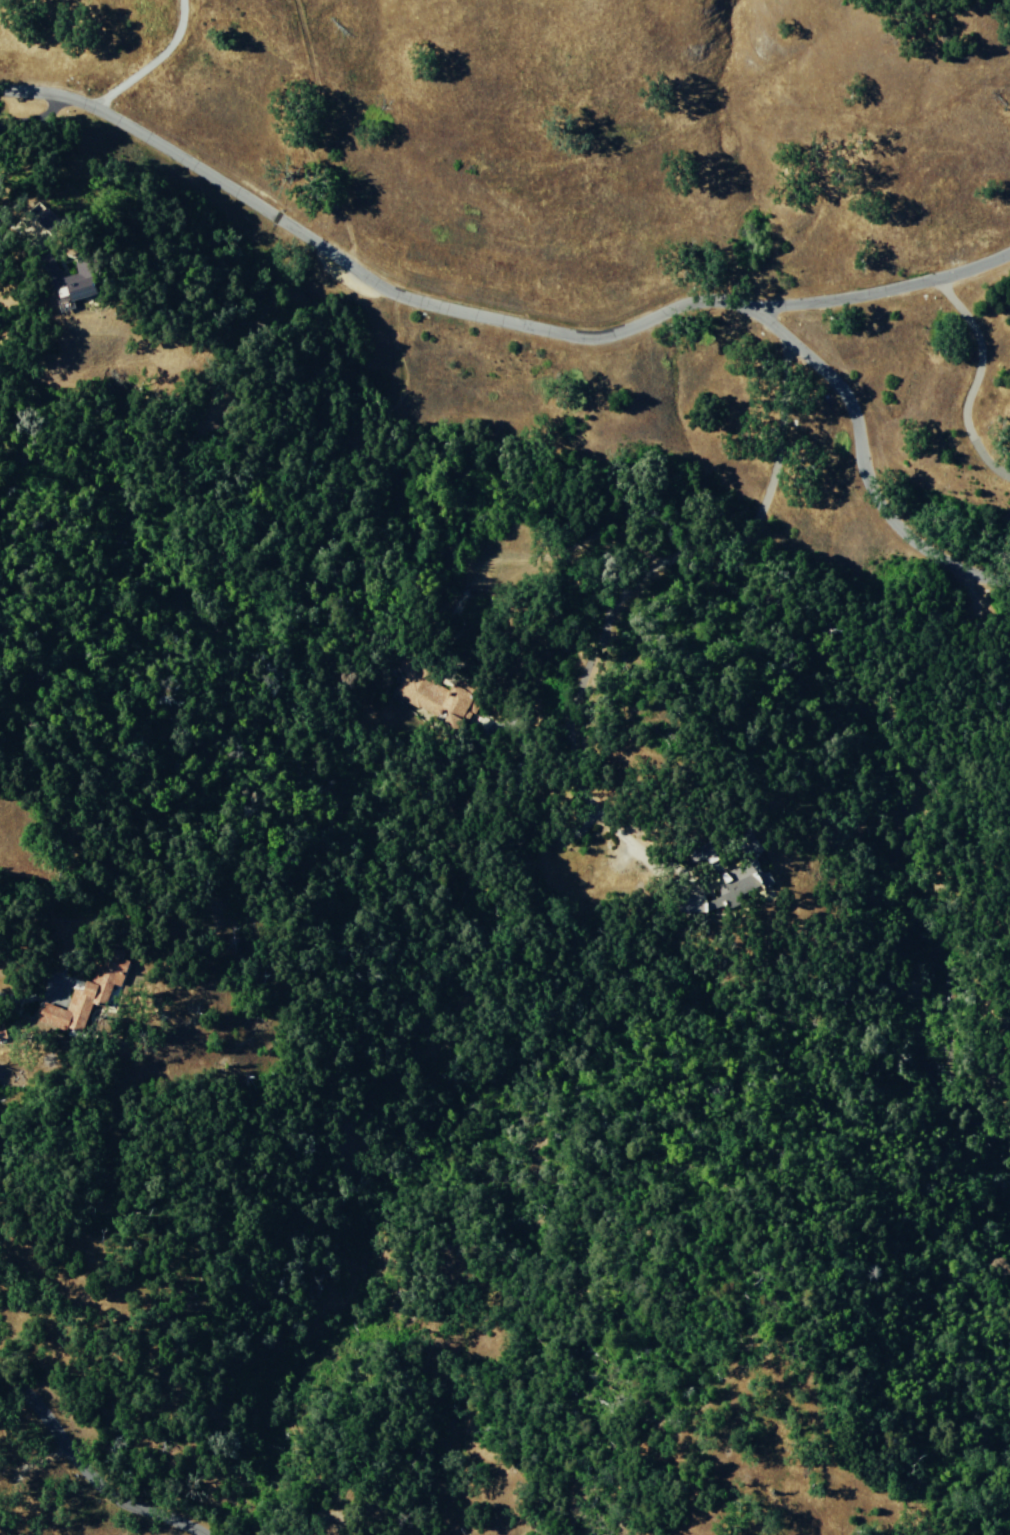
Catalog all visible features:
road: (153, 60)
road: (885, 288)
road: (550, 326)
building: (435, 691)
building: (734, 879)
road: (95, 1465)

